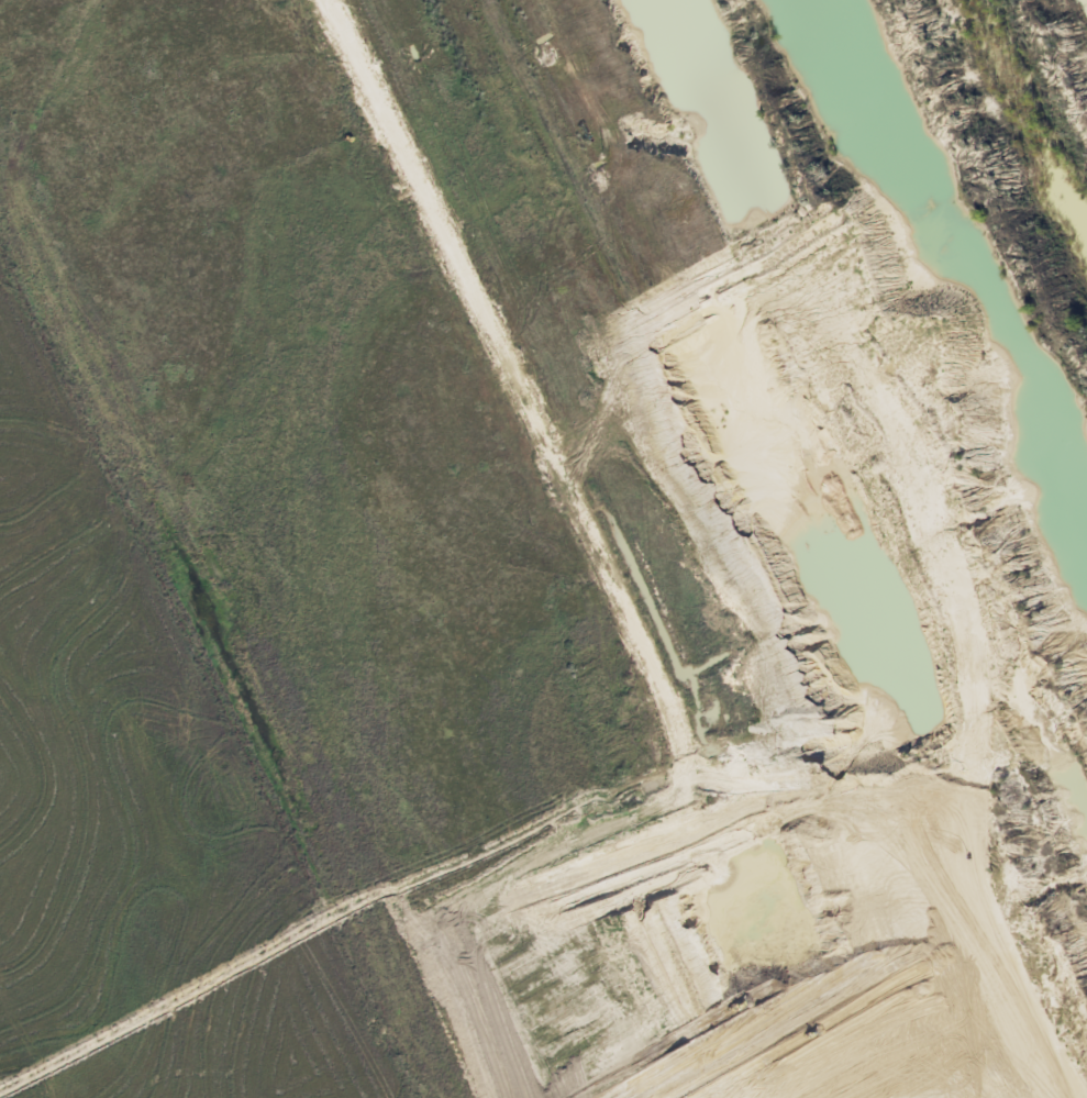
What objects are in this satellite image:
road: (1018, 142)

